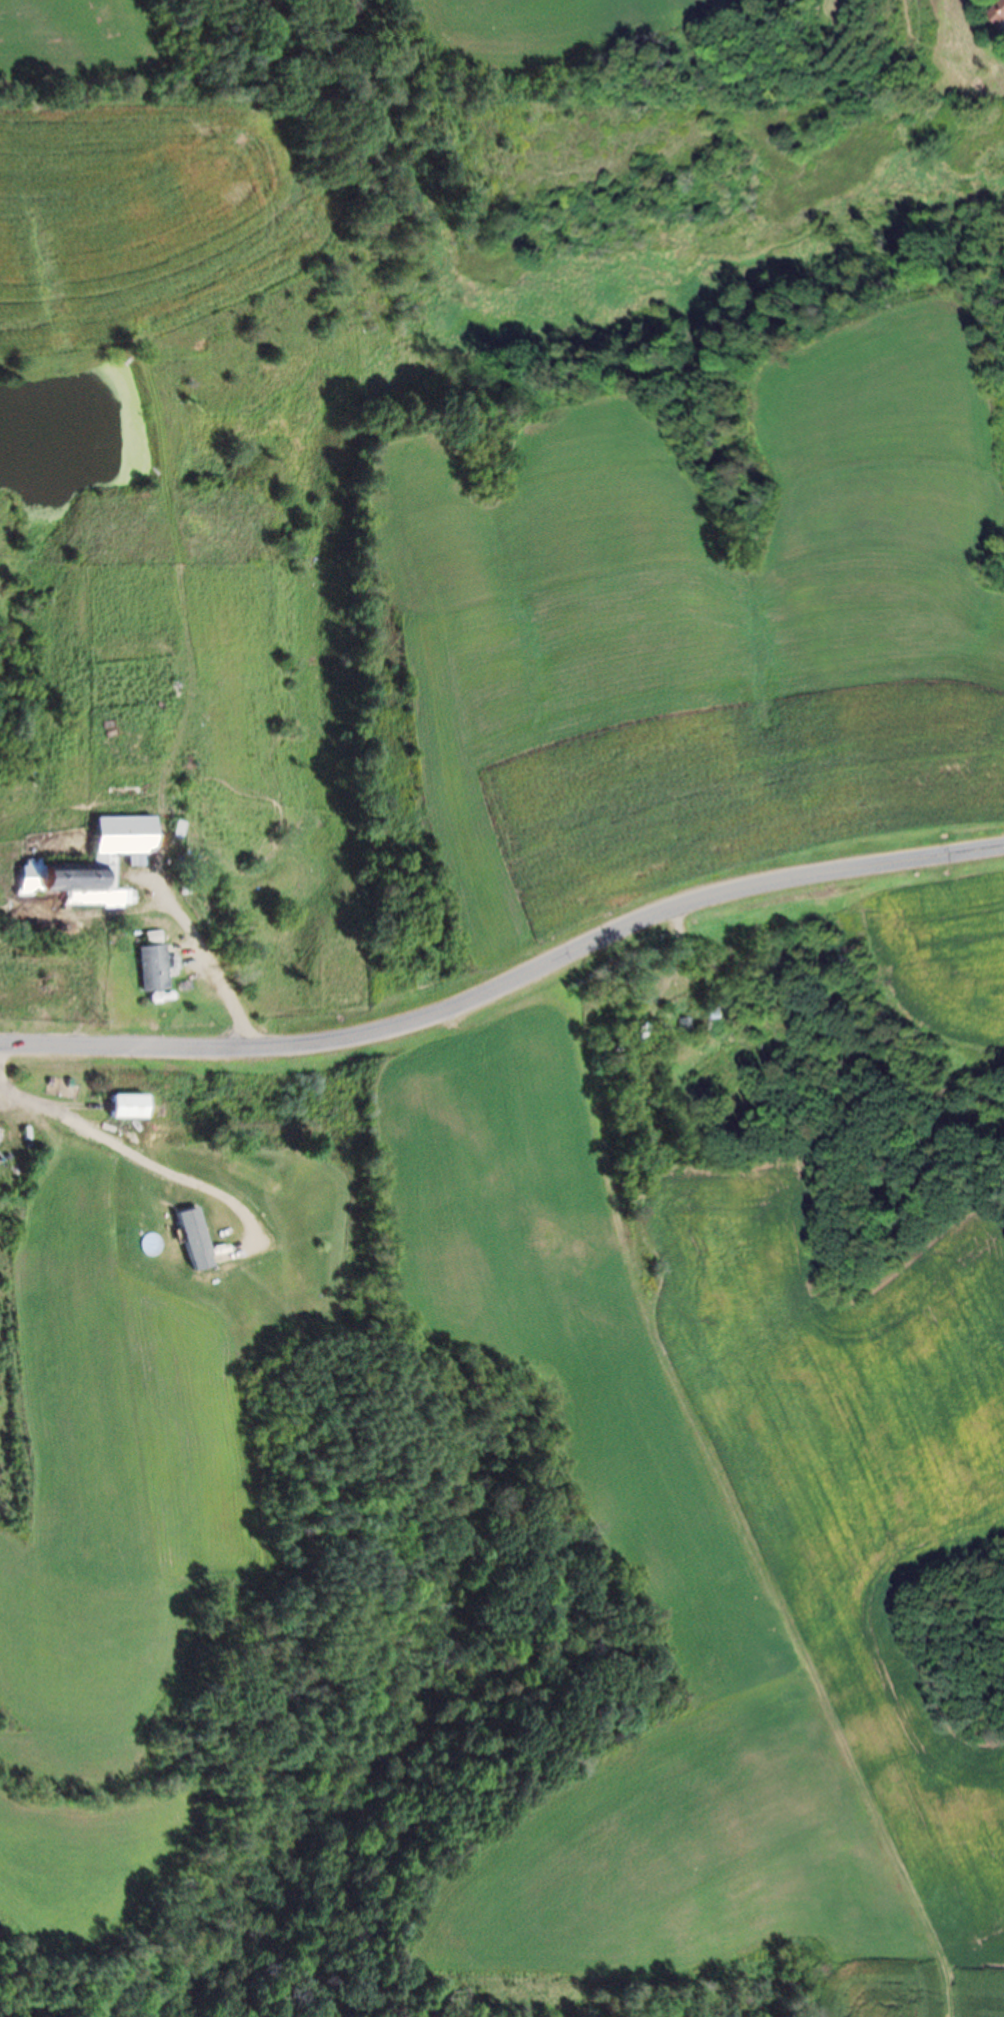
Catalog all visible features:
building: (996, 11)
building: (93, 866)
road: (207, 961)
building: (155, 963)
road: (507, 983)
building: (684, 1023)
building: (125, 1106)
road: (144, 1155)

